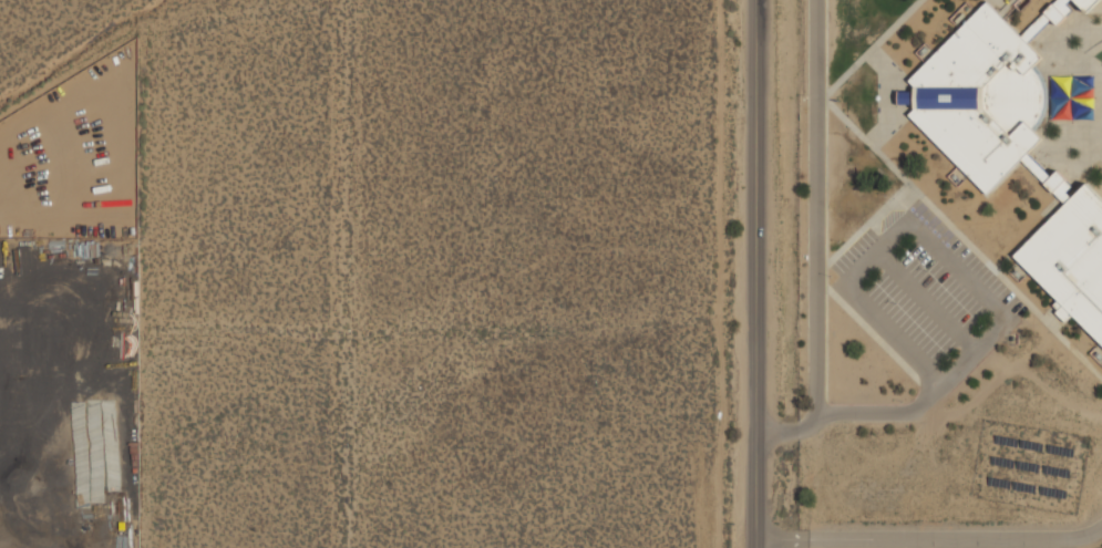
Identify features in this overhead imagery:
building: (1086, 4)
road: (1098, 8)
building: (1059, 11)
road: (1062, 44)
road: (873, 45)
building: (1085, 80)
building: (1063, 83)
building: (1078, 87)
building: (1055, 91)
building: (1084, 94)
road: (883, 96)
street lamp: (876, 97)
building: (905, 97)
building: (981, 97)
road: (897, 99)
building: (1084, 101)
street lamp: (835, 102)
building: (1055, 105)
building: (1077, 108)
building: (1063, 112)
building: (1084, 115)
road: (1096, 138)
building: (1034, 167)
building: (1053, 180)
building: (1063, 193)
road: (825, 199)
road: (964, 239)
road: (816, 240)
building: (1071, 258)
road: (958, 269)
road: (760, 273)
parking lot: (926, 296)
road: (925, 301)
building: (1061, 311)
road: (872, 333)
road: (925, 387)
road: (825, 406)
solar farm: (1029, 467)
road: (933, 540)

